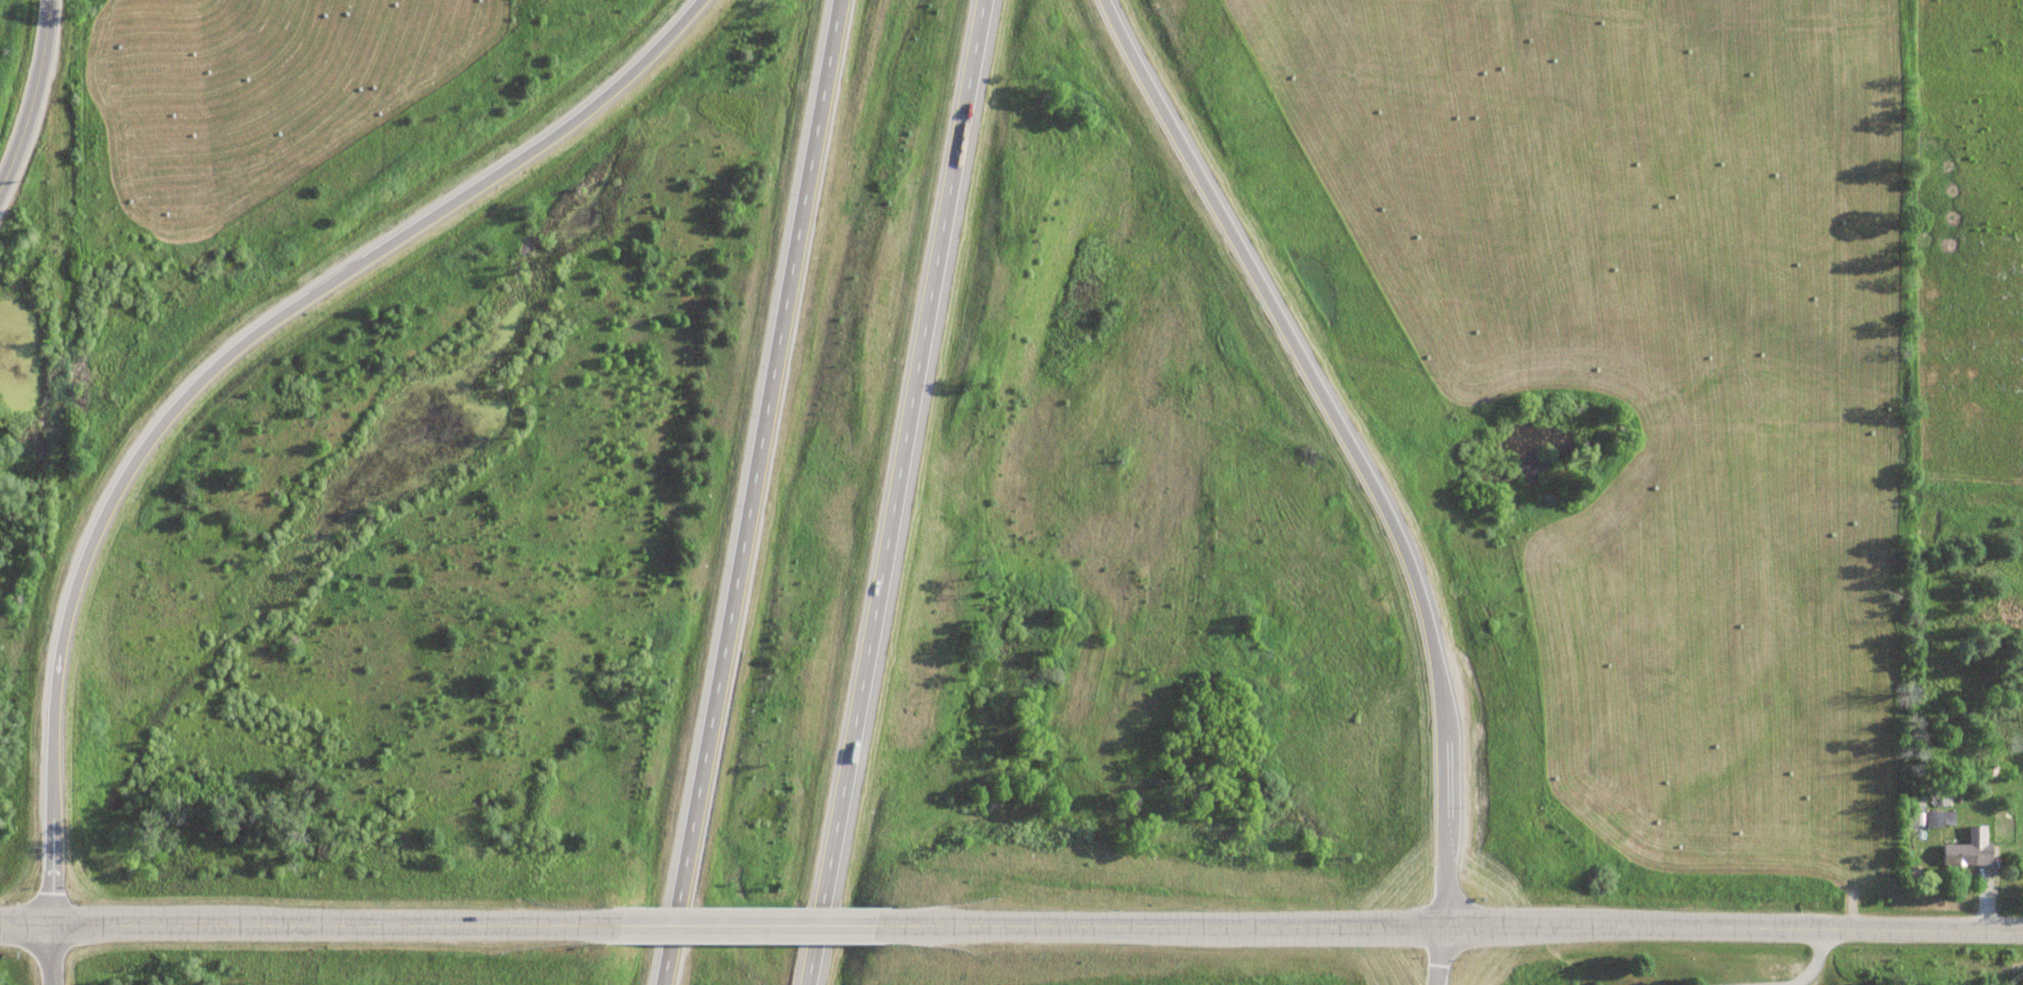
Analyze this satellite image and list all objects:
road: (29, 90)
road: (217, 363)
road: (1348, 440)
road: (752, 492)
road: (897, 492)
building: (1969, 848)
road: (25, 920)
road: (332, 921)
road: (748, 923)
road: (1164, 924)
road: (1734, 927)
road: (51, 952)
road: (1441, 954)

